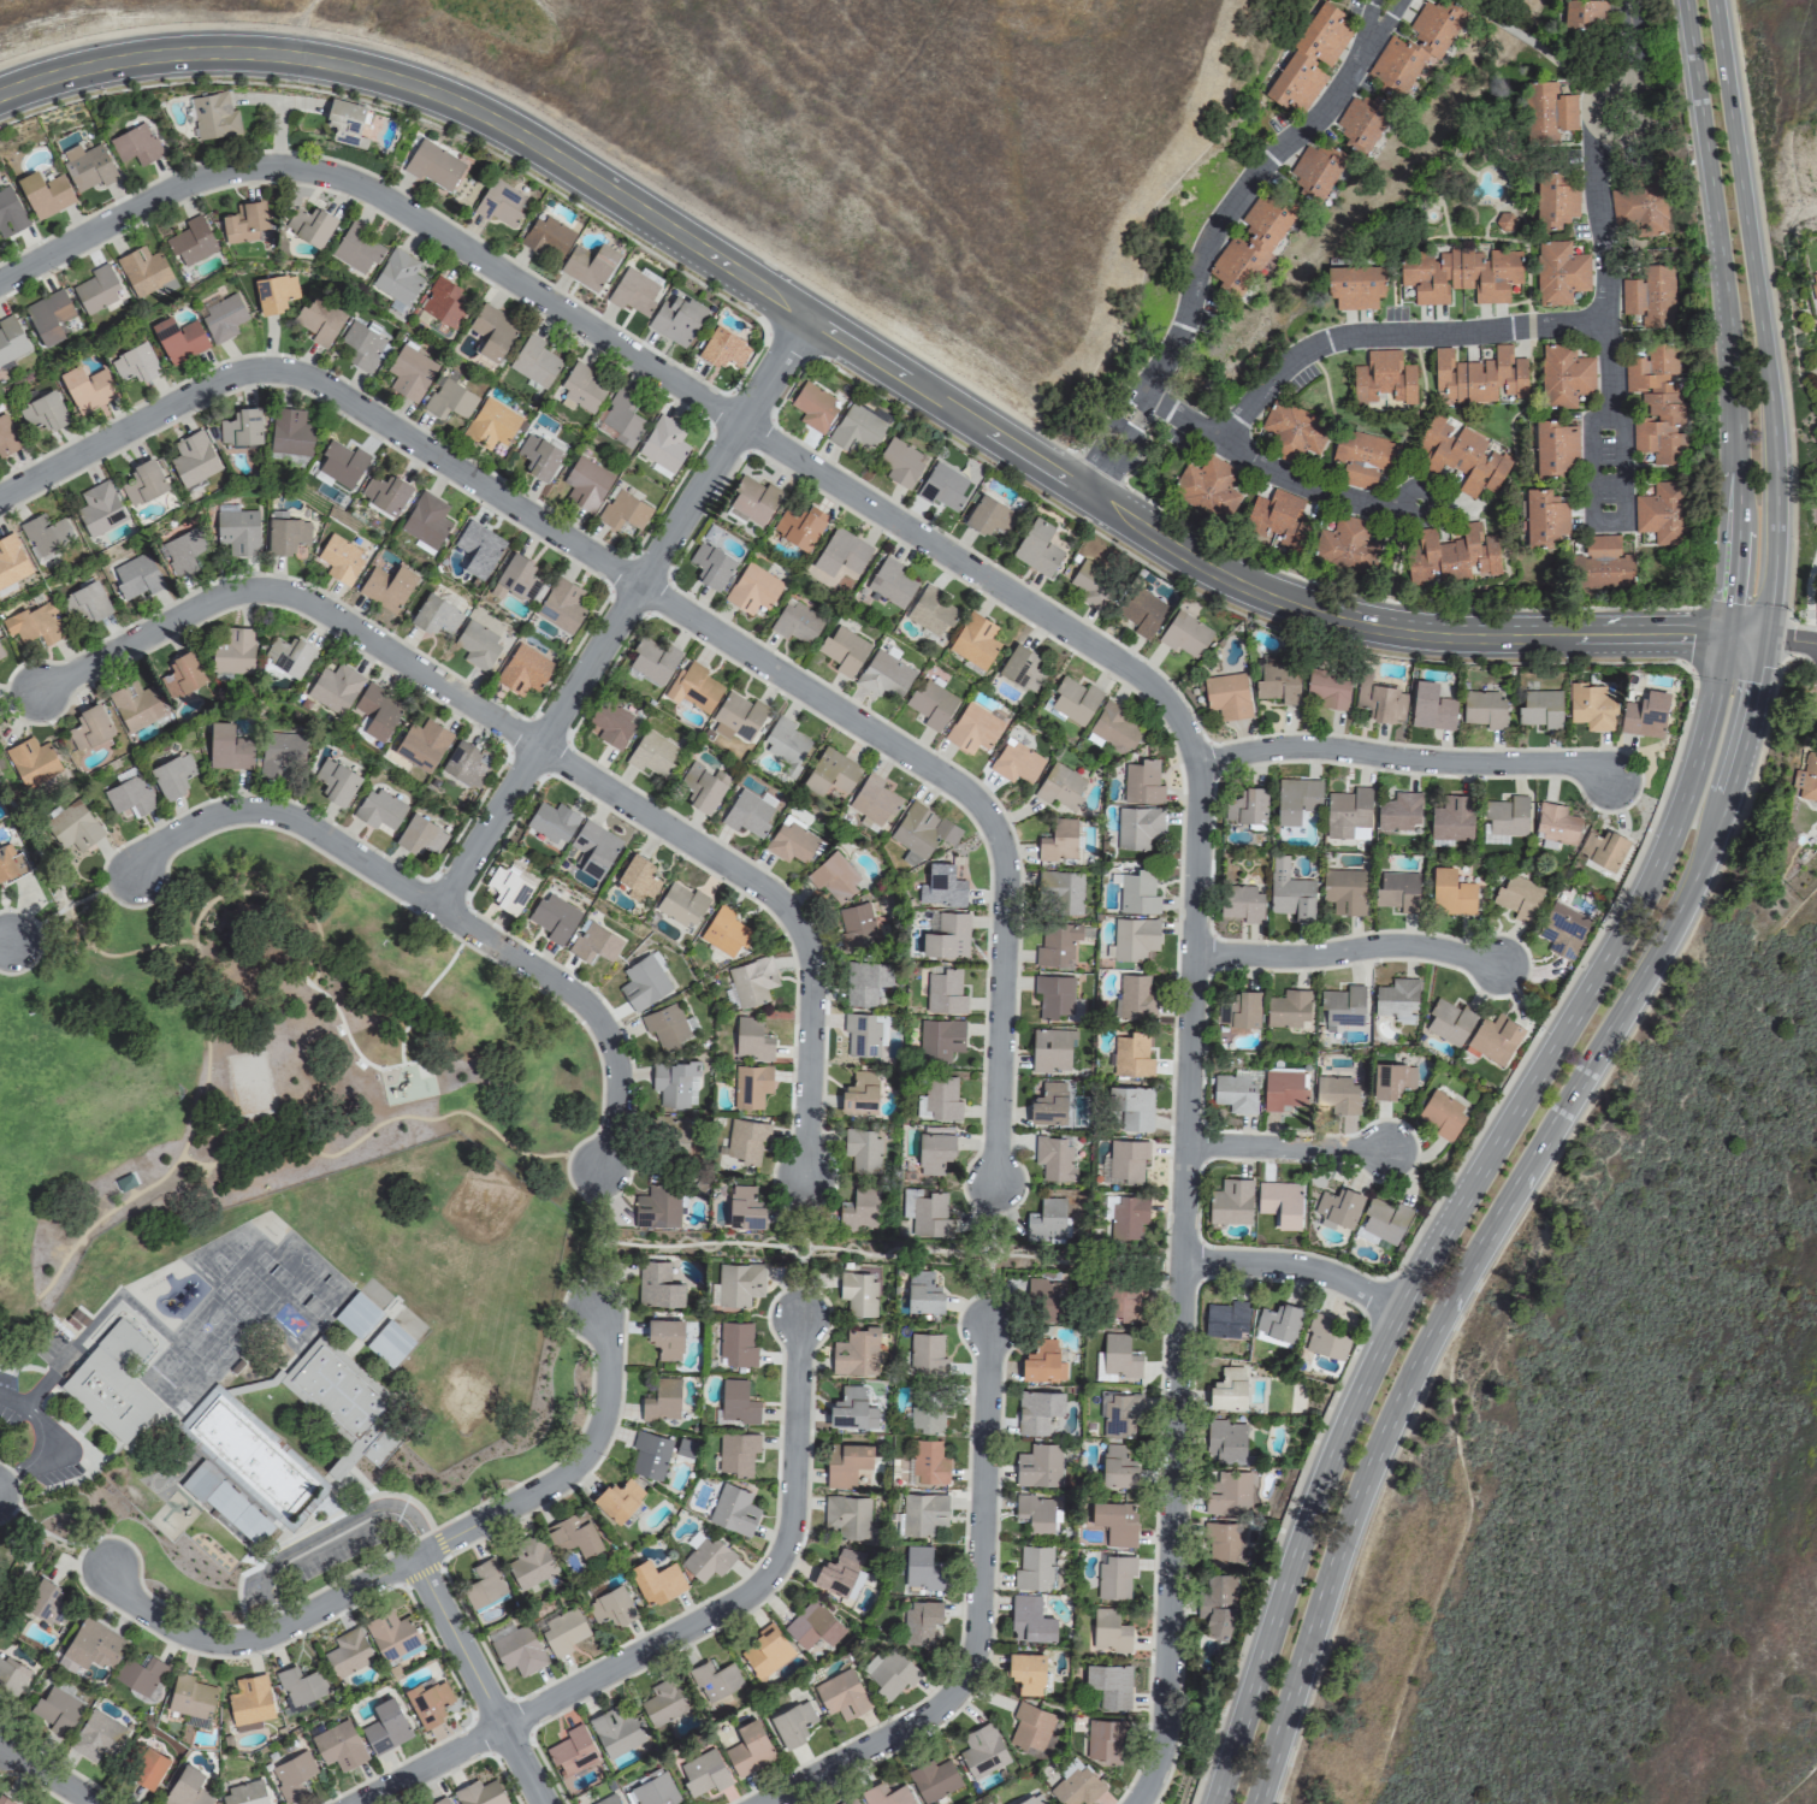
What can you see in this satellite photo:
building: (1585, 13)
road: (301, 26)
building: (1415, 46)
building: (1310, 58)
building: (1547, 112)
building: (213, 116)
building: (345, 122)
building: (1362, 122)
building: (135, 144)
road: (1602, 160)
building: (433, 165)
building: (88, 166)
building: (1315, 171)
building: (45, 194)
building: (1555, 200)
road: (383, 201)
building: (503, 202)
building: (1639, 207)
building: (10, 213)
building: (245, 223)
building: (1504, 223)
building: (310, 226)
road: (1218, 232)
building: (549, 237)
building: (191, 241)
building: (1251, 243)
building: (356, 248)
building: (588, 265)
building: (144, 271)
building: (1559, 272)
building: (1461, 276)
building: (397, 278)
building: (1813, 284)
building: (1355, 286)
building: (96, 289)
building: (634, 290)
building: (274, 292)
building: (1650, 296)
building: (443, 302)
building: (48, 315)
road: (1728, 315)
building: (223, 318)
road: (1758, 318)
building: (676, 319)
building: (319, 320)
building: (492, 332)
road: (1393, 336)
building: (11, 339)
building: (178, 339)
building: (363, 347)
building: (723, 348)
road: (862, 353)
building: (534, 361)
building: (135, 363)
building: (409, 373)
building: (1564, 375)
building: (1384, 377)
building: (1479, 377)
building: (581, 388)
building: (87, 389)
road: (330, 390)
building: (450, 400)
building: (1657, 406)
building: (813, 407)
building: (42, 413)
building: (622, 418)
road: (1610, 422)
building: (491, 424)
building: (241, 426)
building: (857, 427)
building: (1292, 431)
building: (290, 432)
building: (7, 436)
building: (663, 443)
building: (1555, 448)
building: (539, 456)
building: (1461, 456)
building: (193, 457)
building: (1362, 457)
building: (900, 461)
building: (342, 462)
road: (1276, 471)
building: (143, 483)
building: (586, 484)
building: (942, 486)
building: (1207, 486)
building: (386, 493)
building: (753, 501)
building: (99, 508)
building: (623, 510)
building: (1663, 513)
building: (989, 515)
building: (1544, 517)
building: (1278, 519)
building: (426, 520)
building: (800, 526)
building: (237, 528)
building: (46, 533)
building: (286, 536)
building: (1347, 544)
building: (478, 548)
building: (1037, 548)
building: (182, 551)
building: (841, 551)
building: (1451, 556)
building: (11, 560)
building: (338, 560)
building: (1604, 563)
building: (711, 564)
building: (137, 576)
building: (516, 578)
building: (890, 582)
building: (1093, 584)
building: (387, 586)
building: (753, 588)
road: (296, 596)
road: (1807, 598)
building: (87, 602)
building: (562, 604)
road: (621, 611)
building: (931, 611)
building: (436, 615)
building: (797, 622)
building: (35, 623)
building: (1185, 634)
road: (1750, 635)
building: (975, 640)
road: (1791, 641)
building: (478, 645)
building: (842, 650)
building: (233, 651)
building: (0, 653)
building: (288, 655)
building: (652, 660)
building: (1023, 668)
building: (523, 669)
building: (182, 673)
building: (884, 675)
building: (1278, 684)
building: (693, 686)
building: (335, 687)
building: (1326, 688)
building: (1226, 694)
building: (1375, 698)
road: (16, 699)
building: (1075, 699)
building: (930, 703)
building: (135, 704)
building: (1431, 706)
building: (1590, 706)
building: (1484, 709)
building: (1540, 709)
park: (2, 710)
building: (1644, 714)
building: (738, 716)
building: (611, 724)
building: (89, 727)
building: (972, 728)
building: (1113, 728)
building: (422, 743)
building: (786, 743)
building: (229, 747)
building: (280, 753)
building: (651, 753)
road: (1404, 759)
building: (31, 761)
building: (1016, 762)
building: (464, 763)
building: (830, 771)
building: (172, 775)
building: (1810, 777)
building: (336, 781)
building: (1142, 782)
building: (703, 786)
building: (1060, 786)
building: (129, 793)
road: (970, 797)
building: (1296, 798)
building: (872, 800)
building: (1247, 808)
building: (378, 809)
building: (1399, 811)
building: (1348, 812)
building: (747, 814)
road: (286, 817)
building: (1452, 818)
building: (1504, 818)
building: (552, 821)
building: (1556, 823)
building: (77, 824)
building: (1137, 826)
building: (922, 829)
park: (32, 834)
building: (420, 835)
building: (1059, 840)
building: (792, 841)
building: (594, 842)
road: (34, 848)
building: (1603, 848)
building: (10, 863)
building: (638, 876)
building: (834, 876)
building: (940, 887)
building: (508, 889)
building: (1344, 889)
building: (1396, 889)
building: (1290, 891)
building: (1060, 892)
building: (1137, 892)
building: (1451, 893)
building: (1517, 897)
road: (779, 901)
building: (1242, 903)
road: (69, 904)
building: (680, 904)
building: (554, 917)
building: (856, 924)
building: (1563, 929)
building: (724, 930)
building: (947, 935)
building: (1135, 938)
road: (4, 940)
building: (594, 942)
building: (1057, 944)
road: (1345, 950)
building: (752, 980)
building: (644, 981)
building: (866, 982)
building: (943, 992)
building: (1054, 995)
road: (1189, 995)
building: (1135, 996)
building: (1397, 998)
road: (584, 1004)
building: (1343, 1005)
building: (1289, 1007)
building: (1239, 1009)
building: (1449, 1021)
building: (667, 1025)
building: (864, 1034)
building: (752, 1039)
building: (940, 1039)
building: (1050, 1049)
building: (1131, 1054)
park: (259, 1057)
building: (1392, 1080)
building: (675, 1082)
building: (751, 1086)
building: (1283, 1090)
building: (1235, 1092)
building: (859, 1093)
building: (1337, 1093)
building: (939, 1099)
building: (1048, 1101)
building: (1134, 1107)
building: (1442, 1116)
building: (674, 1130)
building: (745, 1142)
road: (1286, 1147)
building: (863, 1149)
building: (934, 1152)
building: (1054, 1158)
building: (1126, 1159)
building: (1231, 1201)
building: (1280, 1202)
building: (662, 1206)
building: (744, 1207)
building: (1338, 1207)
building: (859, 1208)
road: (1457, 1209)
road: (1498, 1213)
building: (930, 1214)
building: (1128, 1214)
building: (1046, 1219)
building: (1380, 1220)
road: (593, 1236)
road: (798, 1244)
park: (892, 1249)
road: (990, 1250)
road: (887, 1253)
road: (1294, 1266)
building: (739, 1283)
building: (658, 1284)
building: (923, 1291)
building: (857, 1293)
building: (1125, 1299)
building: (1047, 1301)
building: (356, 1314)
building: (1226, 1318)
building: (1278, 1320)
building: (665, 1337)
building: (1325, 1337)
building: (389, 1342)
building: (736, 1343)
building: (856, 1351)
building: (927, 1353)
building: (1117, 1356)
building: (1042, 1361)
building: (1229, 1389)
building: (108, 1394)
building: (662, 1400)
building: (343, 1402)
building: (738, 1402)
building: (852, 1408)
building: (1037, 1410)
building: (925, 1413)
building: (1120, 1414)
road: (40, 1438)
building: (1225, 1443)
building: (685, 1447)
building: (249, 1450)
building: (736, 1451)
building: (650, 1455)
building: (929, 1461)
building: (846, 1462)
building: (1038, 1465)
building: (1118, 1466)
road: (569, 1468)
building: (1229, 1494)
building: (617, 1498)
building: (227, 1502)
building: (733, 1509)
building: (924, 1513)
building: (1035, 1513)
building: (847, 1515)
building: (1113, 1520)
building: (575, 1532)
road: (49, 1533)
road: (322, 1536)
building: (205, 1537)
building: (1225, 1542)
park: (29, 1555)
building: (708, 1557)
building: (529, 1562)
road: (22, 1566)
road: (1449, 1566)
building: (1034, 1567)
building: (922, 1568)
building: (839, 1571)
building: (1114, 1575)
building: (656, 1581)
building: (484, 1583)
road: (750, 1587)
building: (43, 1599)
building: (1217, 1604)
building: (611, 1605)
building: (1030, 1619)
building: (919, 1620)
road: (976, 1620)
building: (813, 1625)
building: (1109, 1629)
building: (561, 1631)
building: (392, 1636)
road: (253, 1640)
building: (90, 1645)
building: (517, 1650)
building: (347, 1651)
building: (765, 1651)
building: (892, 1672)
building: (1026, 1672)
building: (142, 1675)
building: (11, 1678)
building: (714, 1679)
road: (477, 1680)
building: (300, 1684)
building: (1109, 1684)
building: (841, 1693)
building: (189, 1696)
building: (249, 1699)
building: (664, 1701)
building: (428, 1702)
building: (54, 1710)
building: (792, 1722)
building: (385, 1726)
building: (1031, 1727)
building: (616, 1729)
building: (96, 1738)
building: (1105, 1738)
building: (338, 1745)
building: (748, 1747)
building: (570, 1750)
building: (982, 1750)
road: (425, 1764)
building: (147, 1765)
building: (703, 1772)
road: (47, 1774)
building: (934, 1779)
road: (1794, 1784)
building: (1077, 1786)
building: (187, 1787)
building: (652, 1788)
building: (480, 1792)
building: (244, 1793)
building: (887, 1794)
building: (5, 1799)
building: (609, 1799)
building: (1031, 1799)
building: (440, 1800)
building: (847, 1800)

